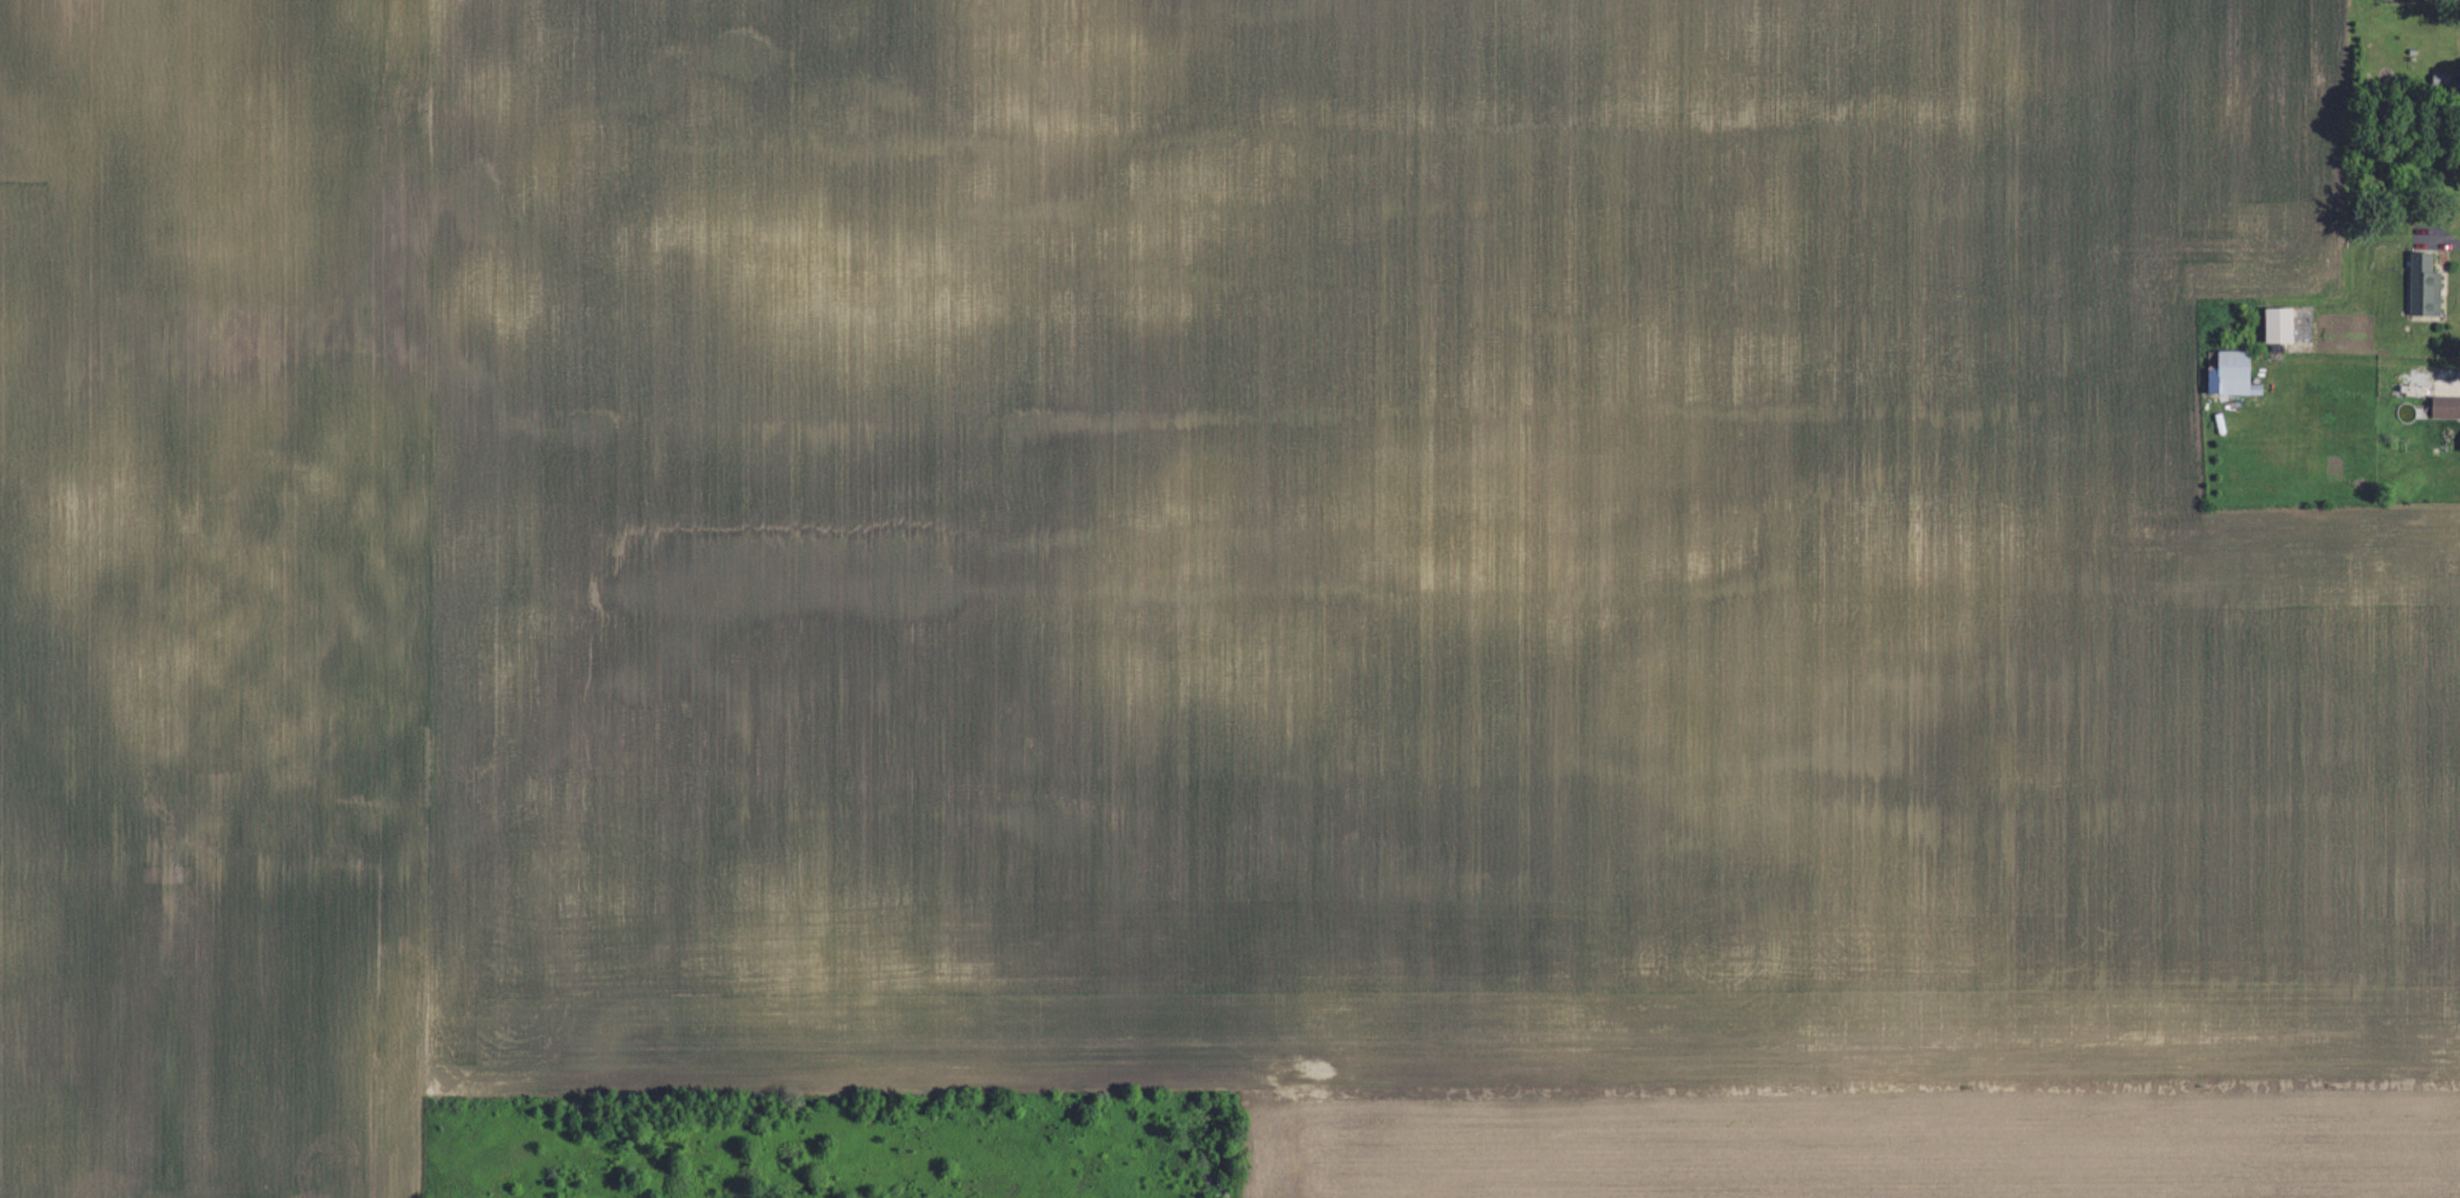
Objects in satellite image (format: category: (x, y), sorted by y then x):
building: (2232, 371)

